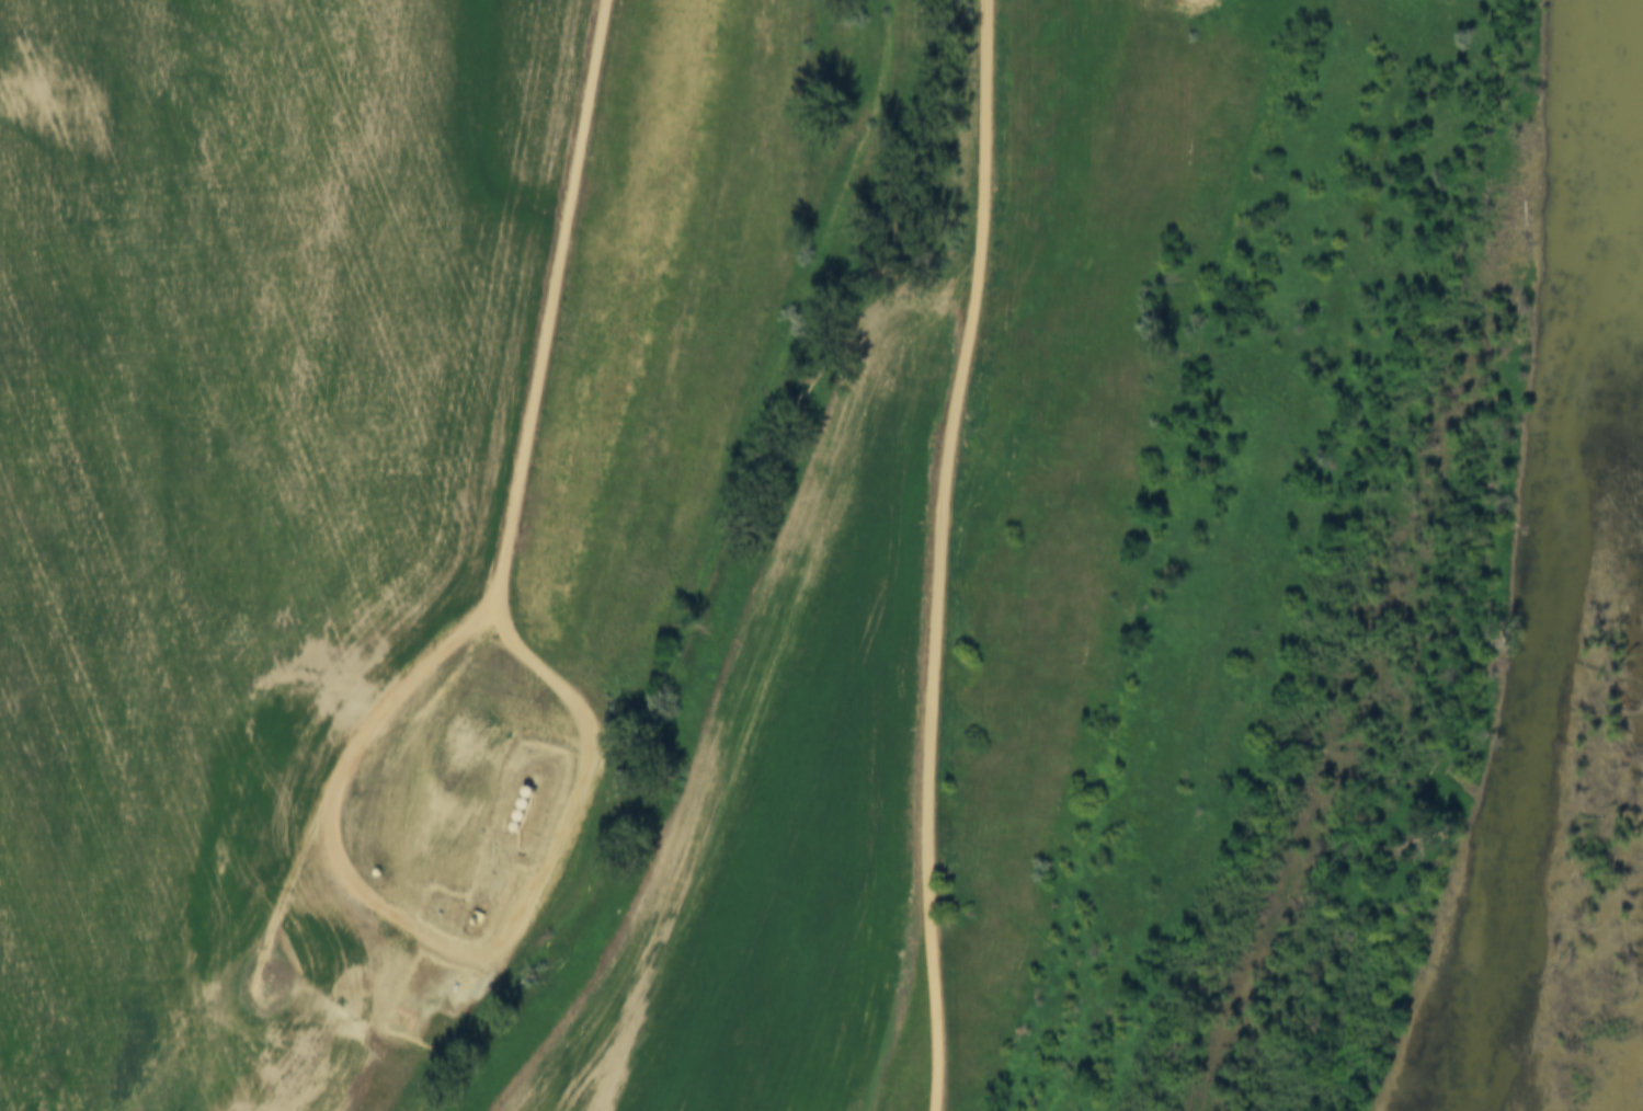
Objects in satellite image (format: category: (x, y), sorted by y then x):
road: (546, 317)
road: (940, 554)
road: (425, 944)
road: (240, 985)

